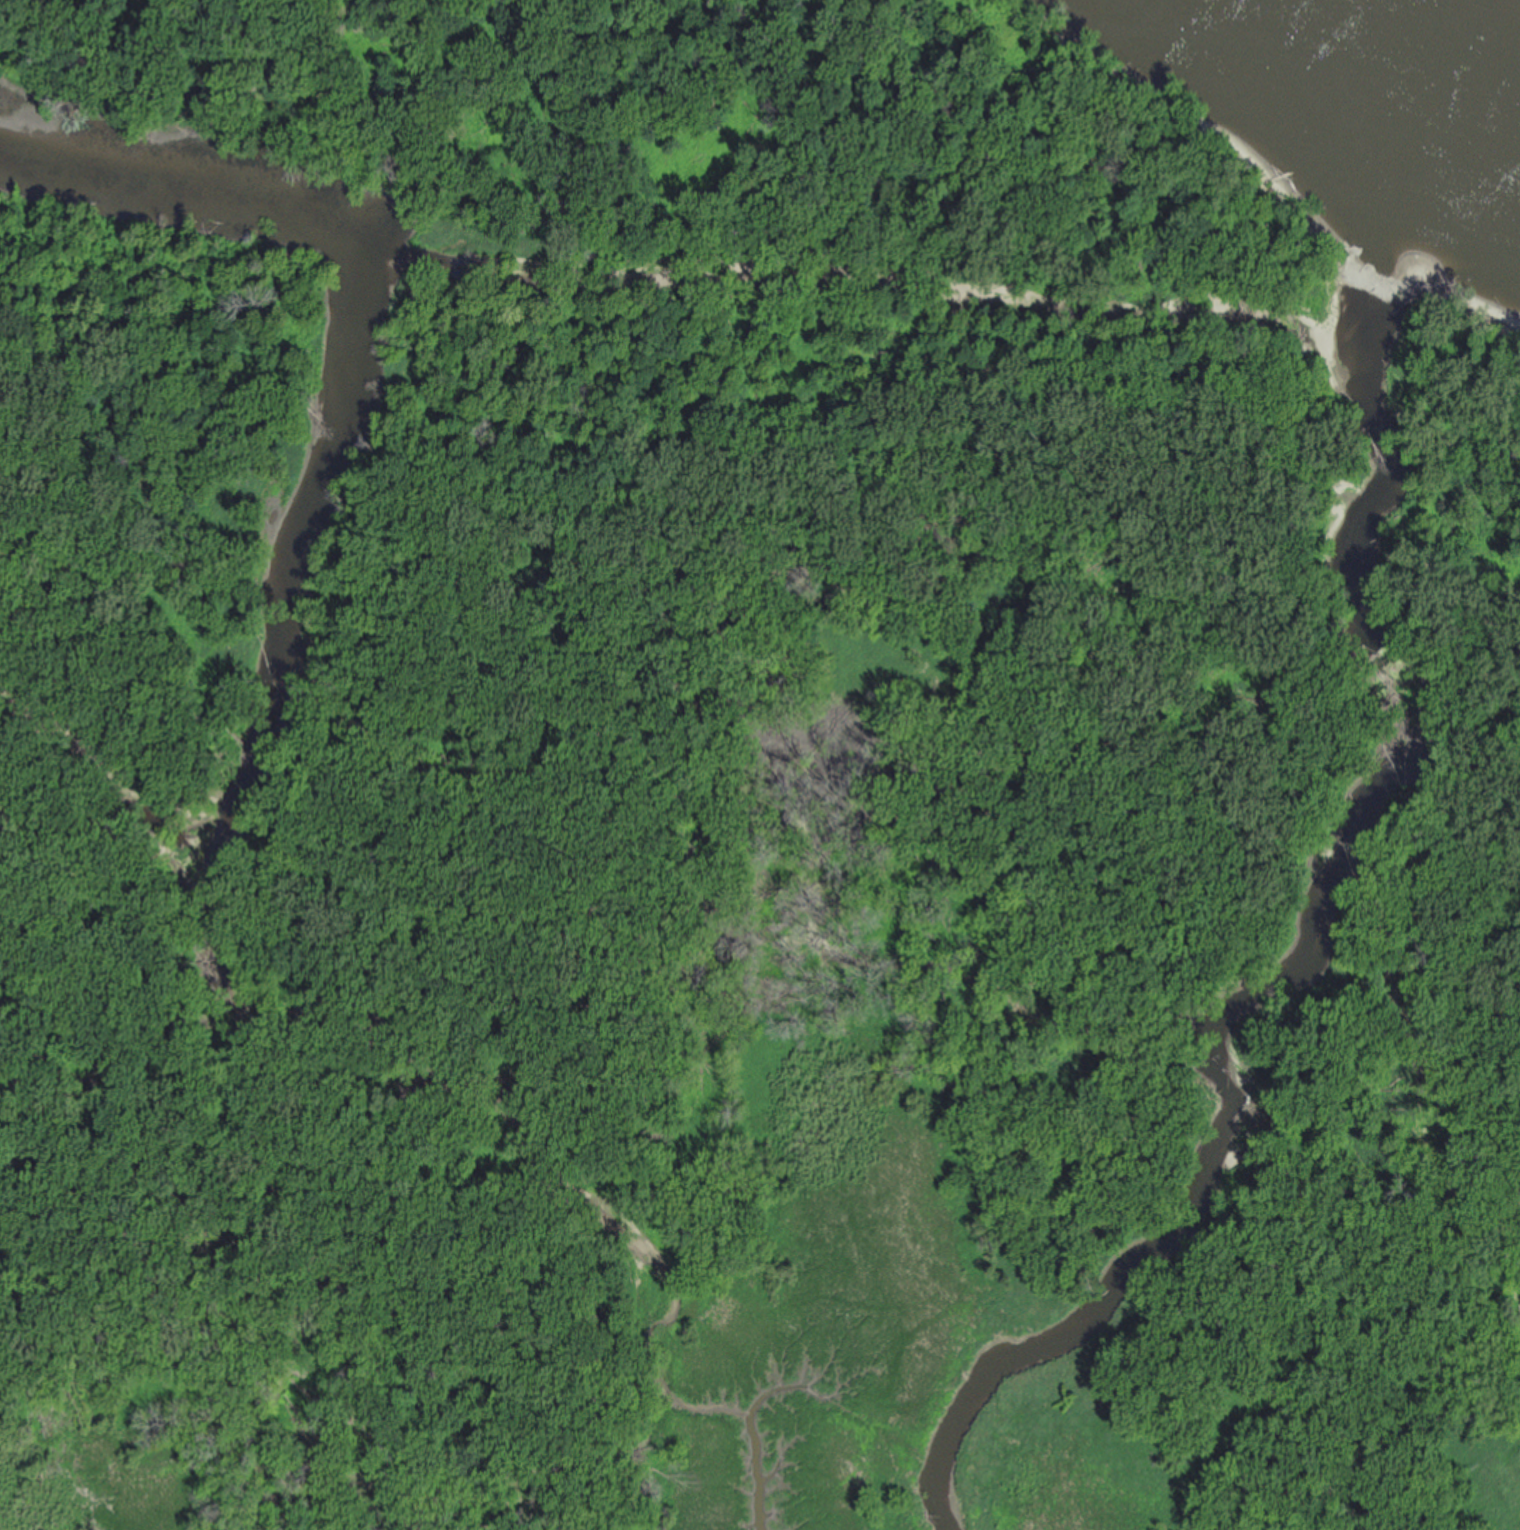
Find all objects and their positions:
river: (192, 201)

